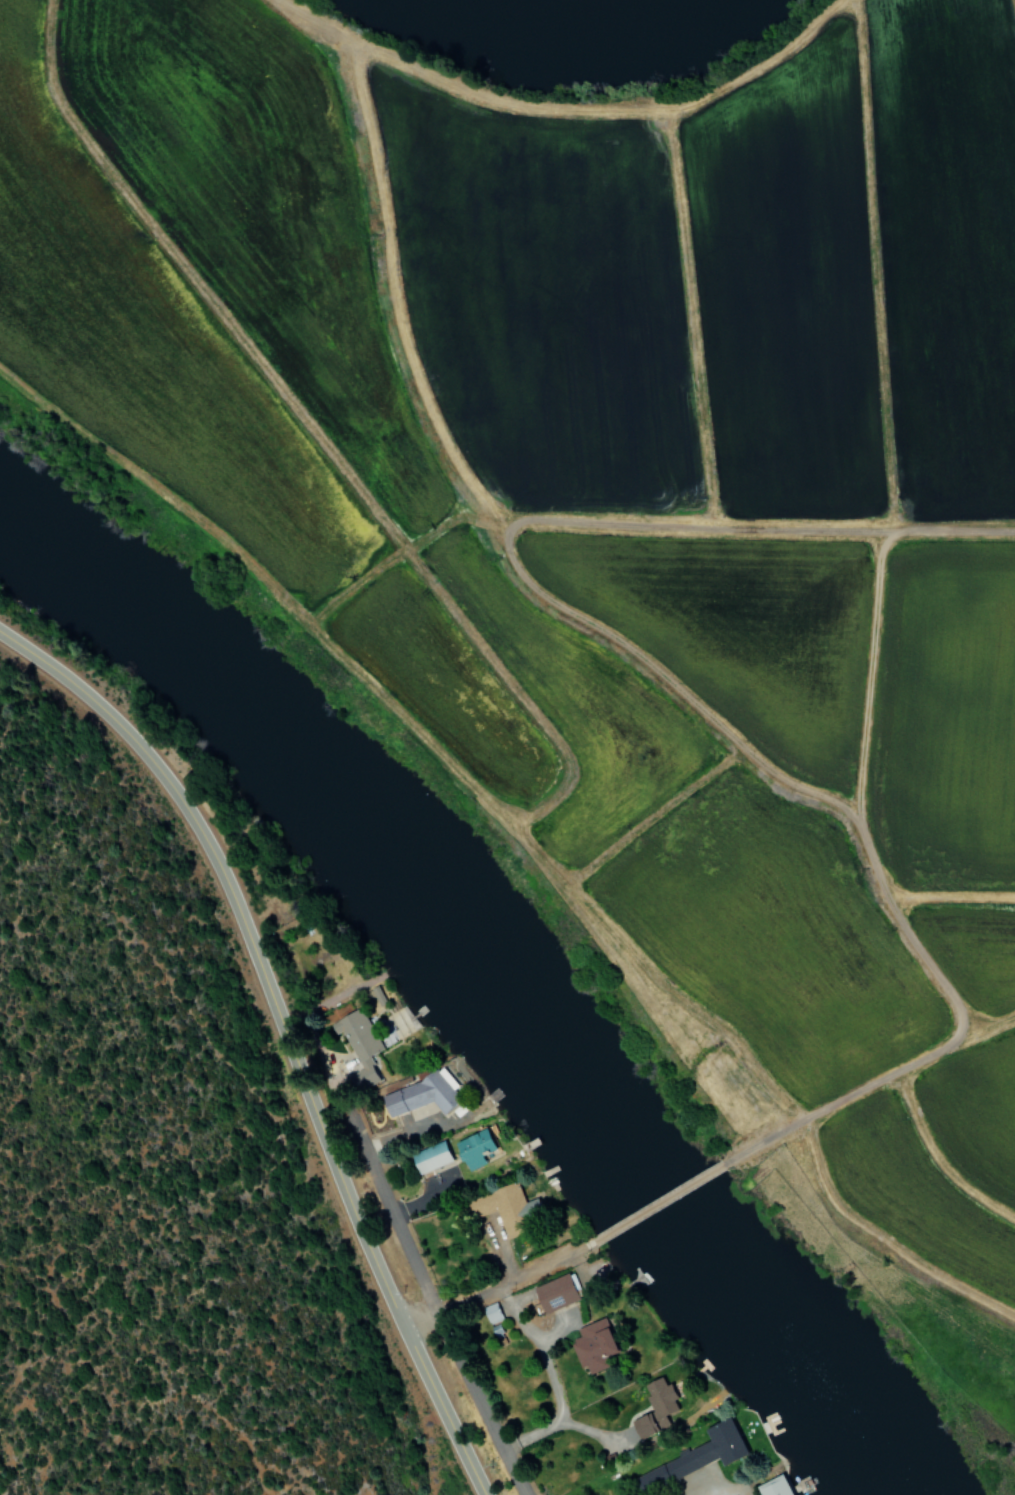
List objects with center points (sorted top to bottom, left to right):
river: (576, 22)
river: (485, 966)
road: (283, 1035)
building: (358, 1047)
building: (419, 1095)
building: (472, 1150)
building: (429, 1158)
road: (661, 1200)
building: (508, 1208)
road: (494, 1282)
building: (555, 1293)
road: (428, 1295)
building: (490, 1314)
building: (591, 1346)
building: (653, 1409)
building: (696, 1457)
building: (772, 1487)

